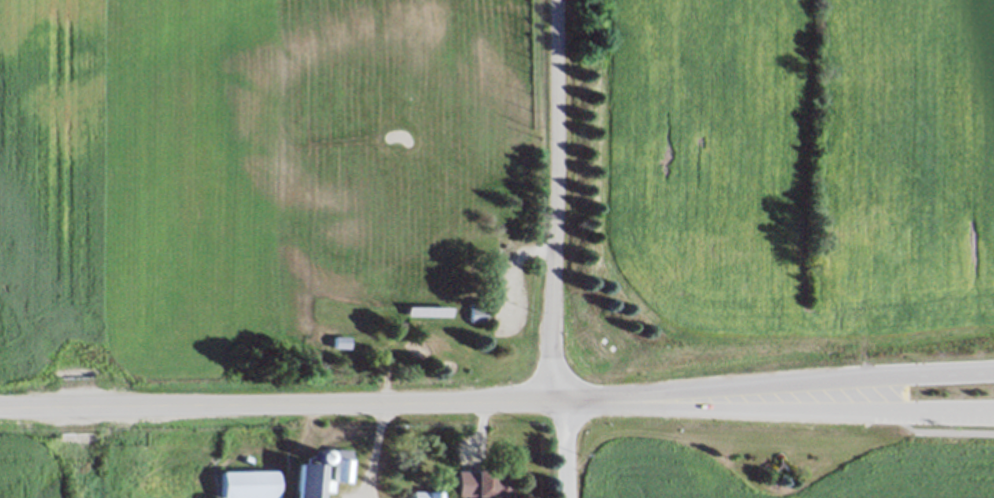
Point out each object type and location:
crop: (776, 187)
park: (408, 194)
crop: (138, 197)
road: (552, 200)
road: (508, 262)
parking lot: (508, 286)
building: (426, 310)
building: (474, 313)
building: (339, 342)
road: (835, 384)
road: (547, 402)
road: (208, 407)
road: (835, 410)
road: (945, 433)
road: (328, 435)
road: (372, 450)
road: (566, 450)
crop: (780, 459)
building: (335, 463)
building: (306, 481)
building: (480, 482)
building: (246, 483)
building: (422, 493)

